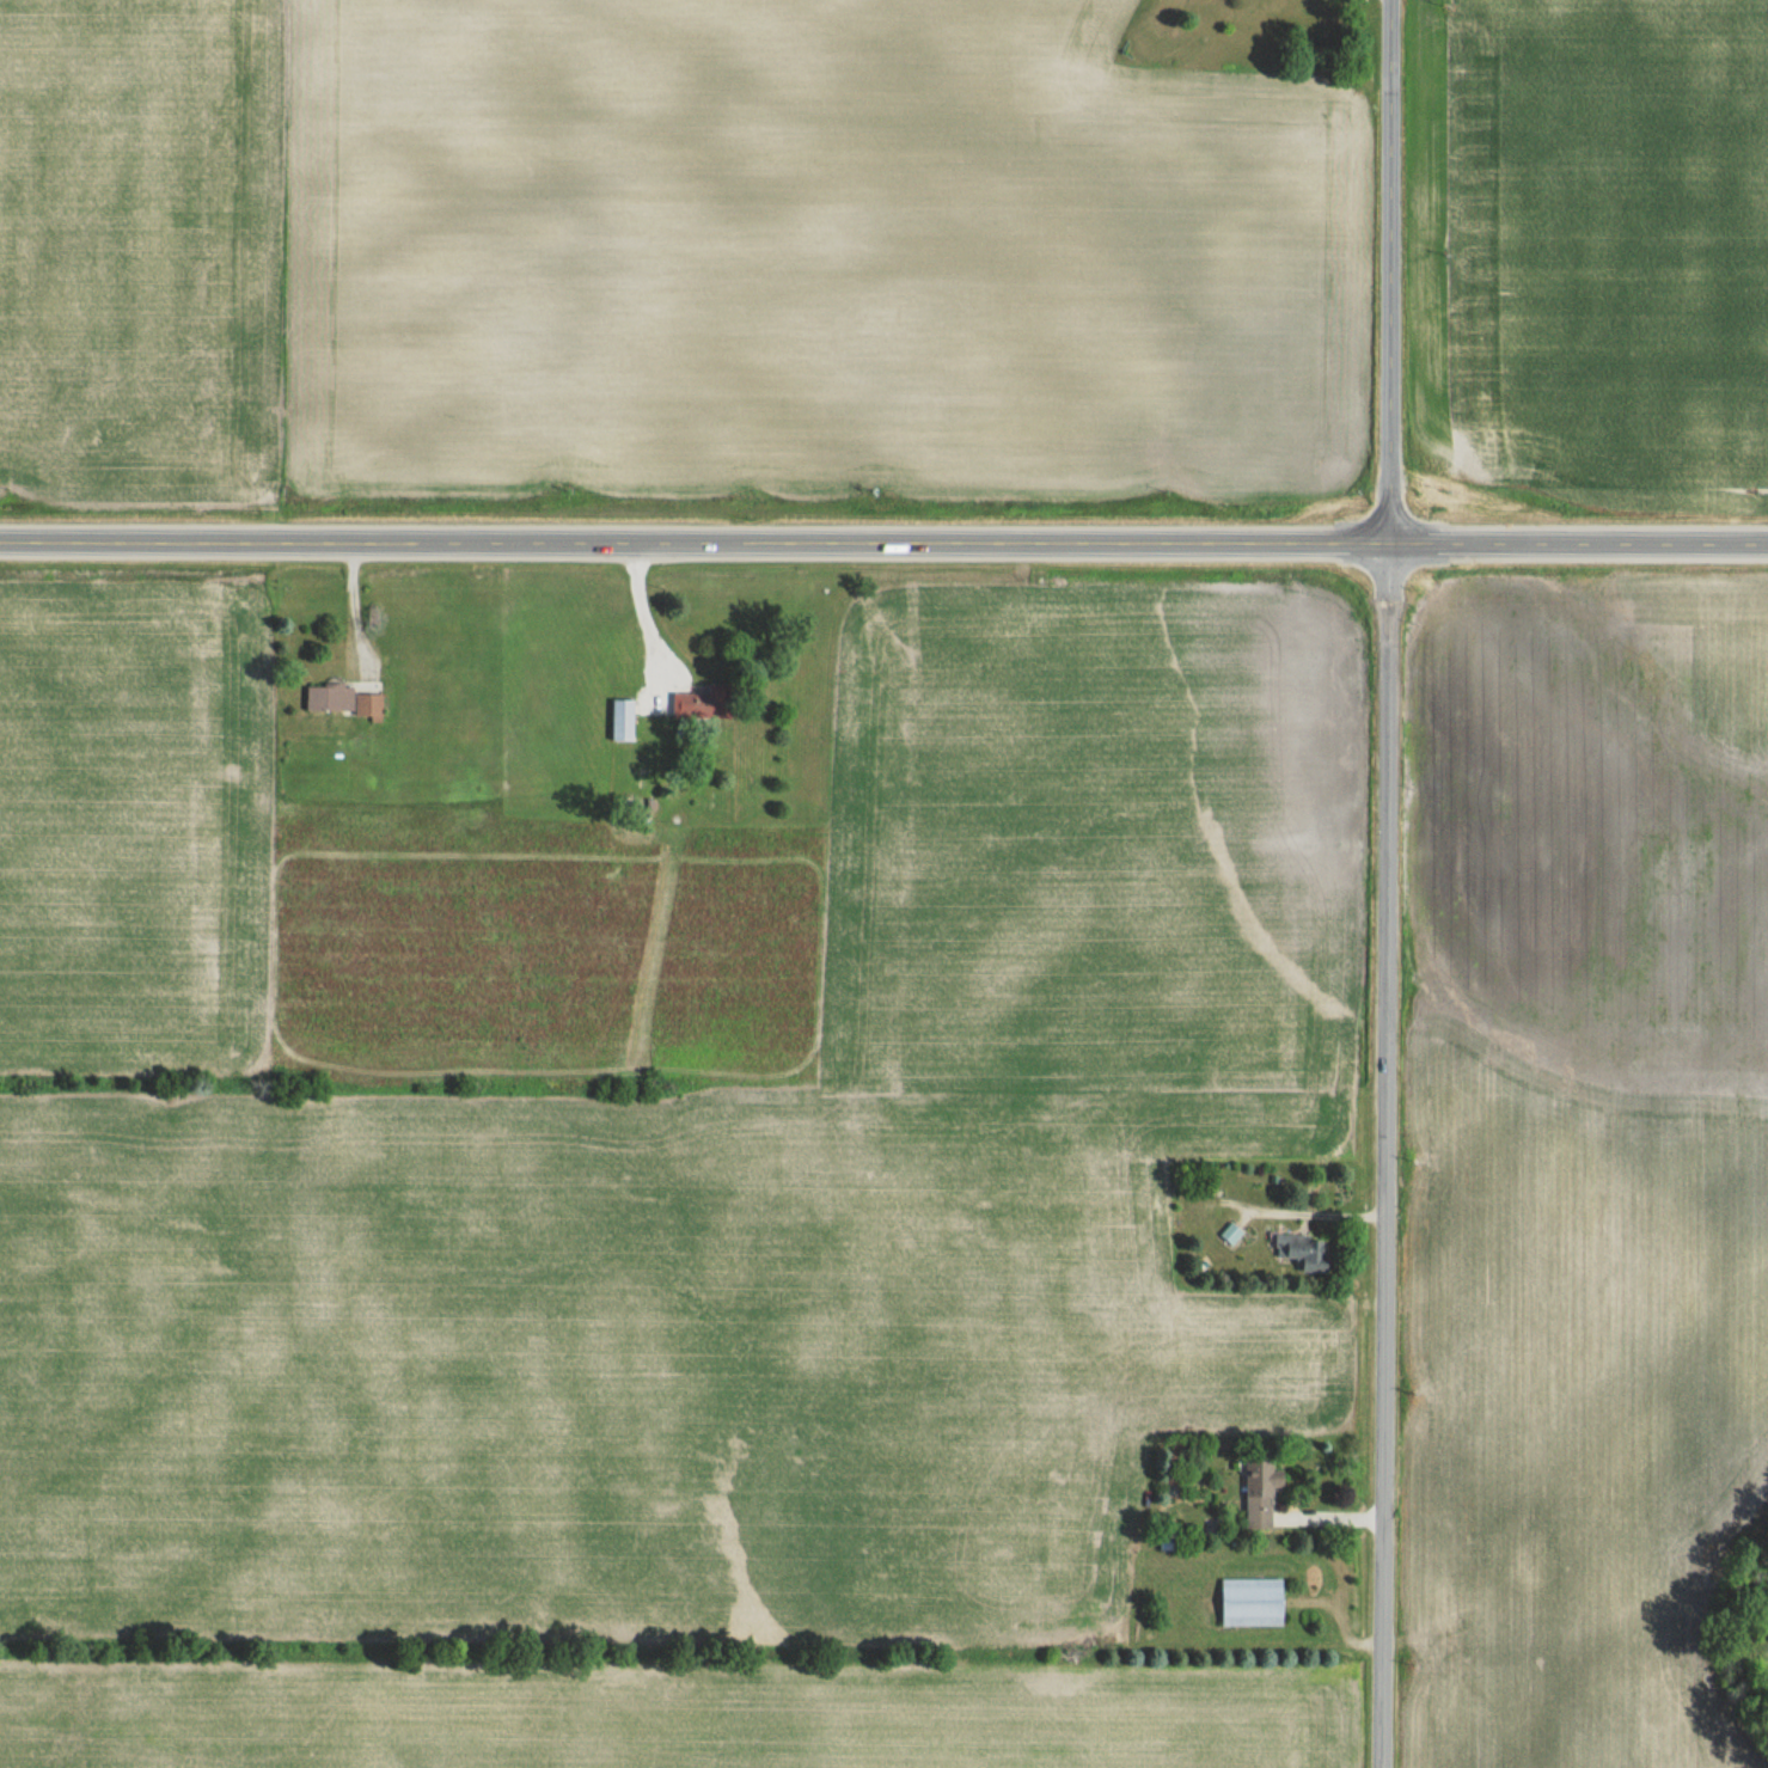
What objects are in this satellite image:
road: (883, 540)
road: (351, 606)
road: (641, 610)
building: (348, 701)
building: (705, 703)
building: (624, 718)
road: (1388, 883)
road: (1319, 1212)
building: (1305, 1250)
building: (1262, 1492)
building: (1253, 1602)

